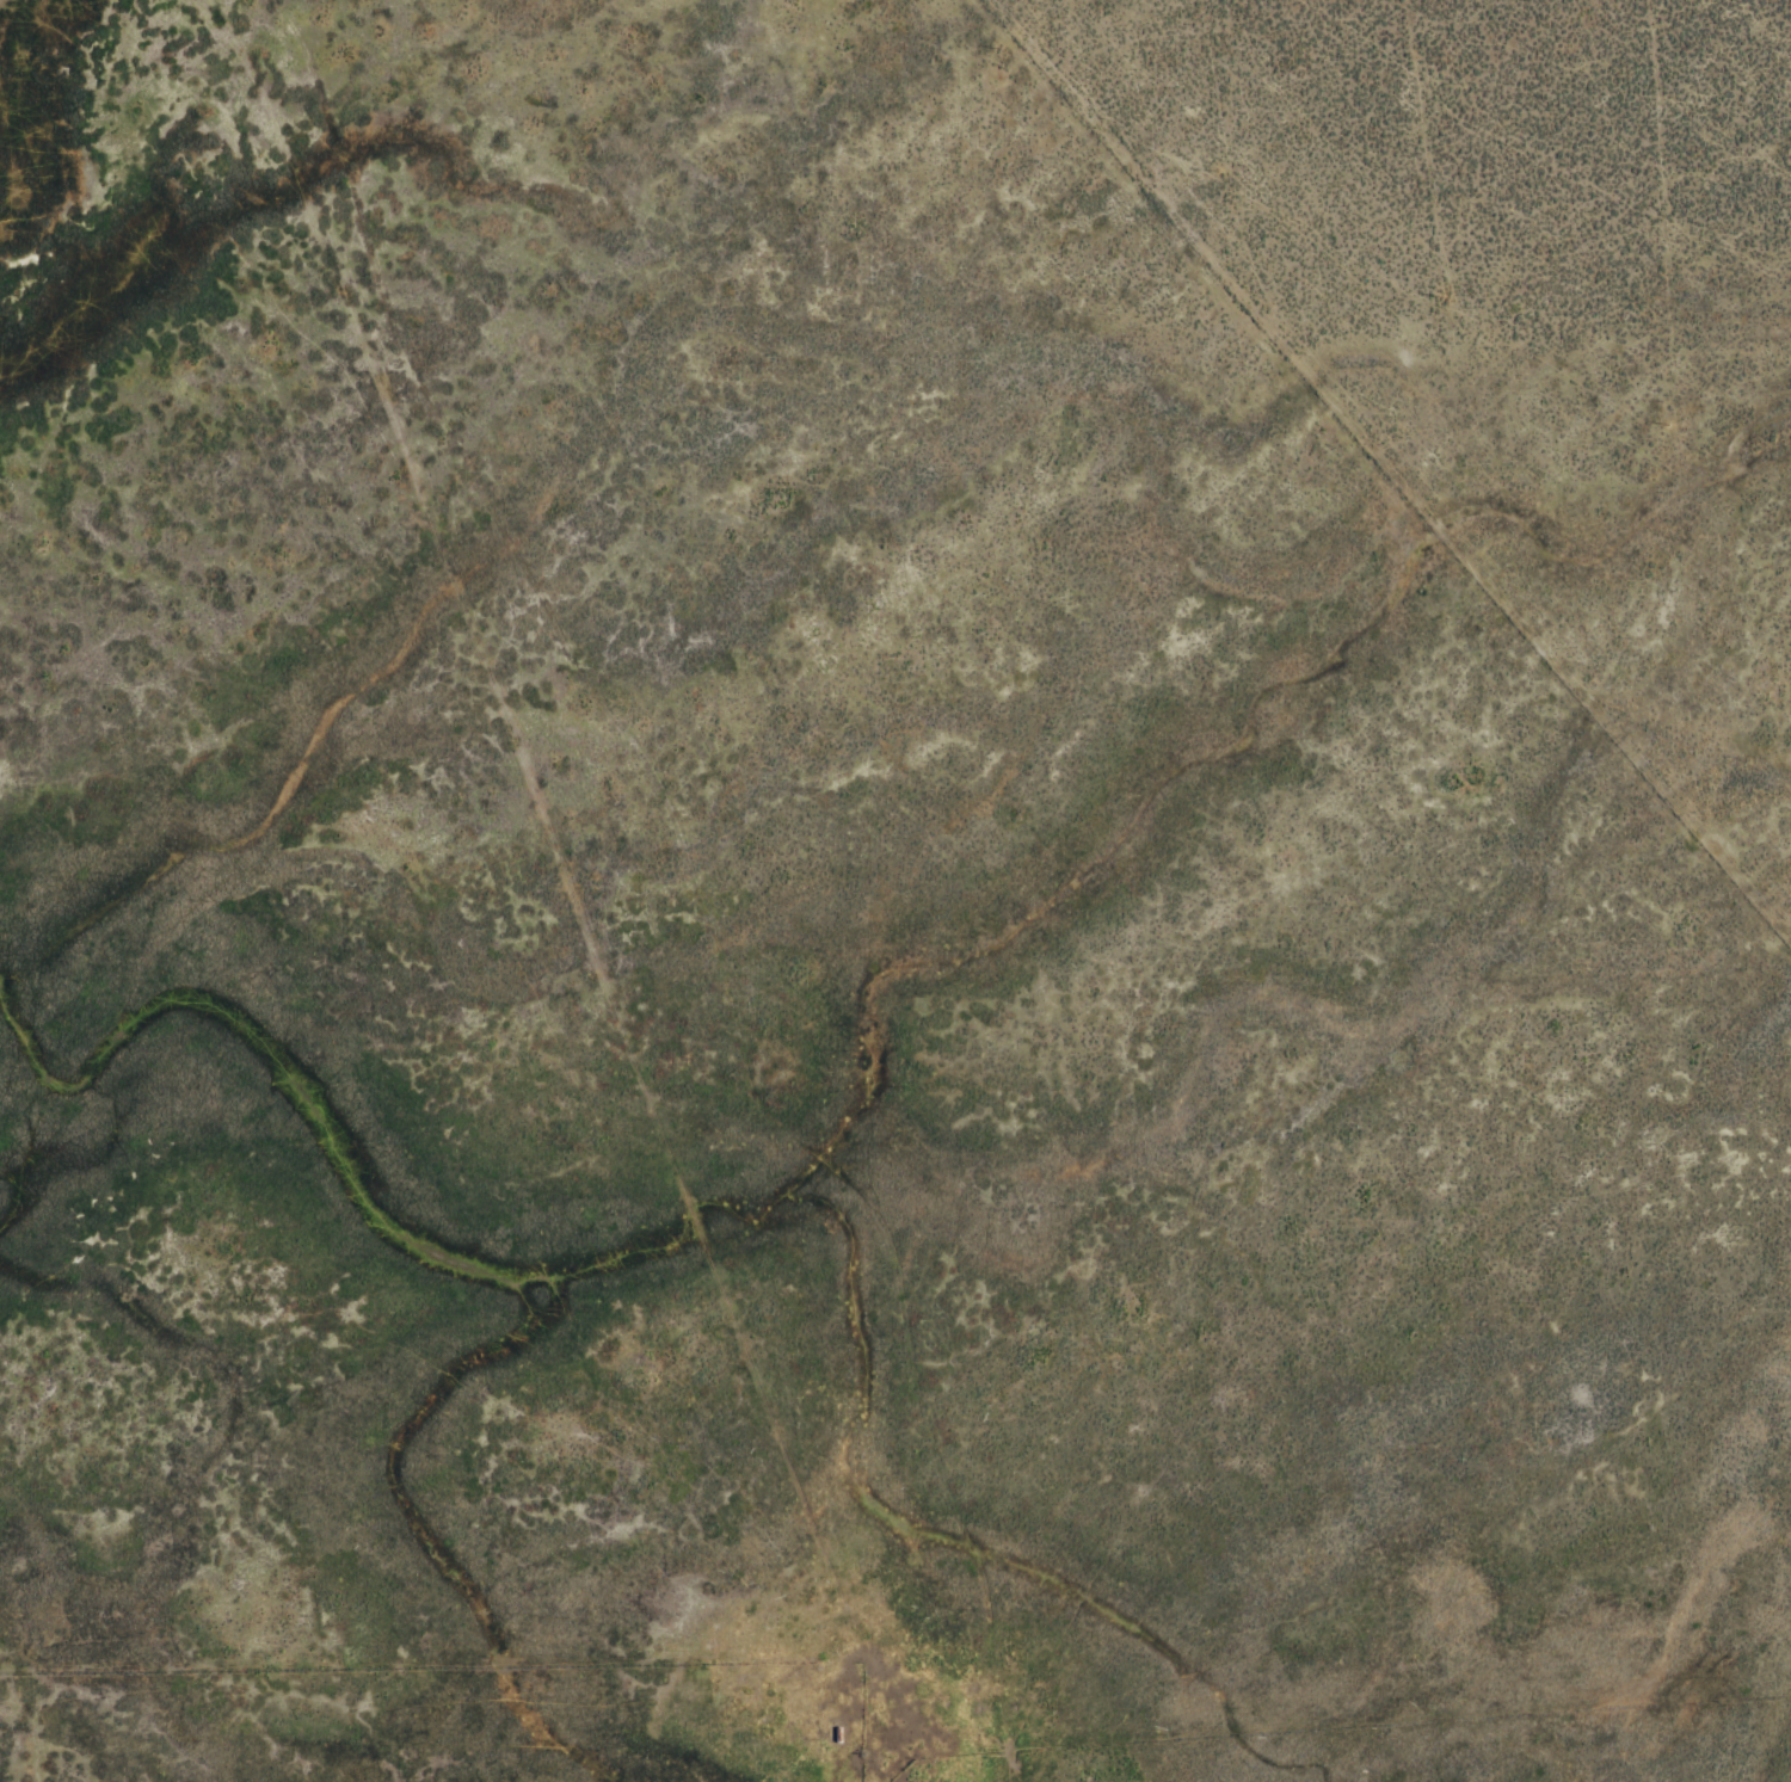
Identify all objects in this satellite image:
crop: (895, 890)

